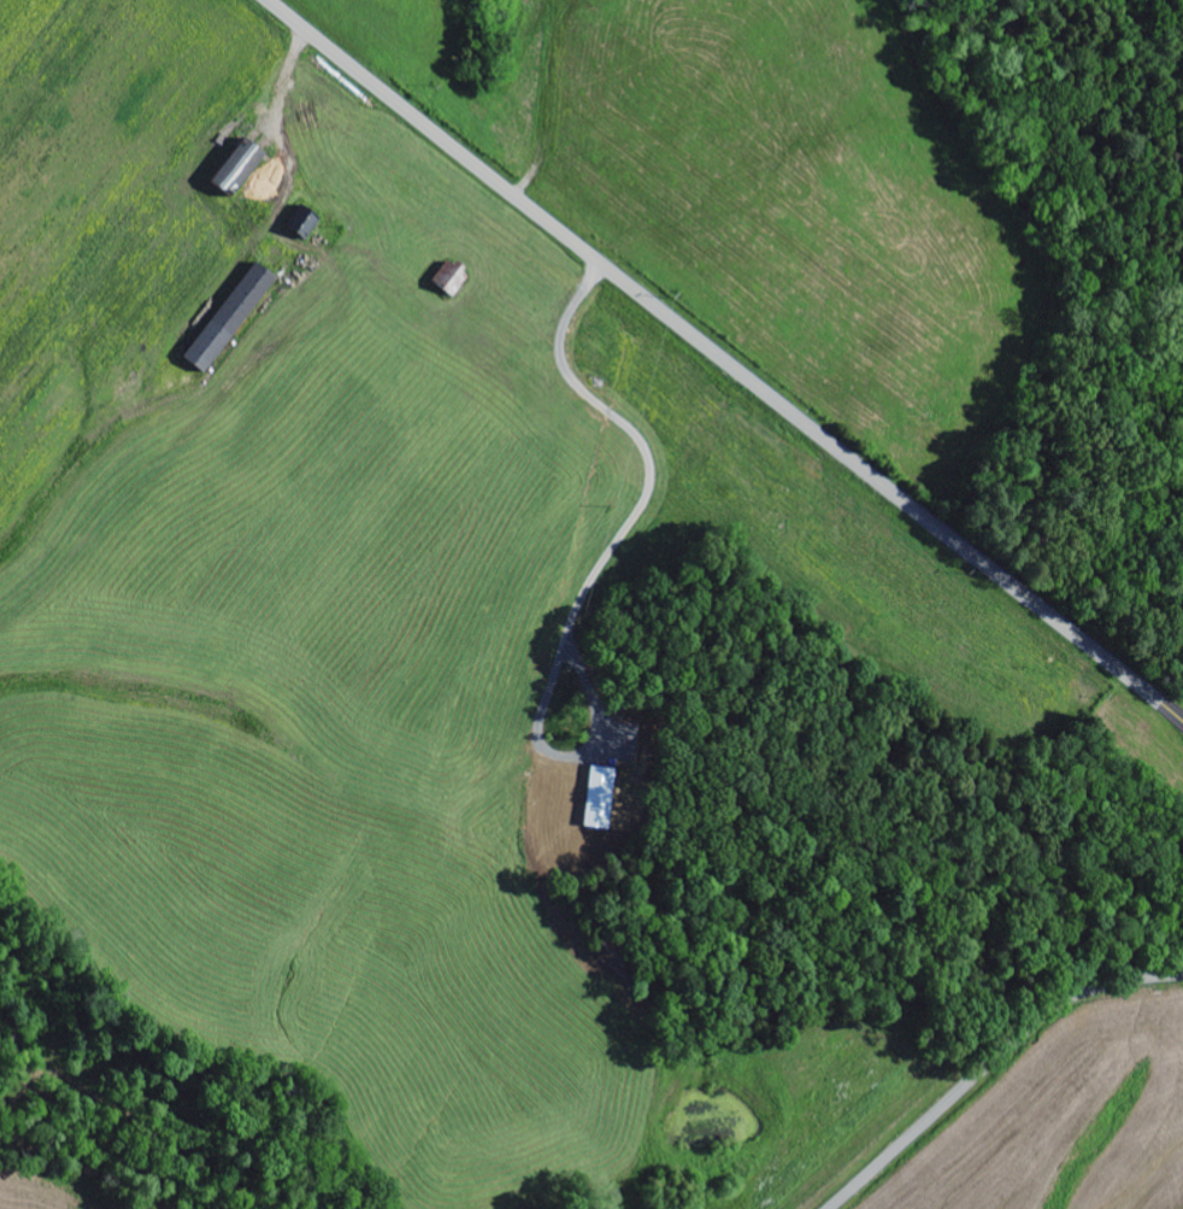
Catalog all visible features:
building: (235, 169)
building: (305, 227)
building: (448, 280)
building: (228, 319)
road: (725, 360)
road: (1161, 648)
road: (994, 1064)

